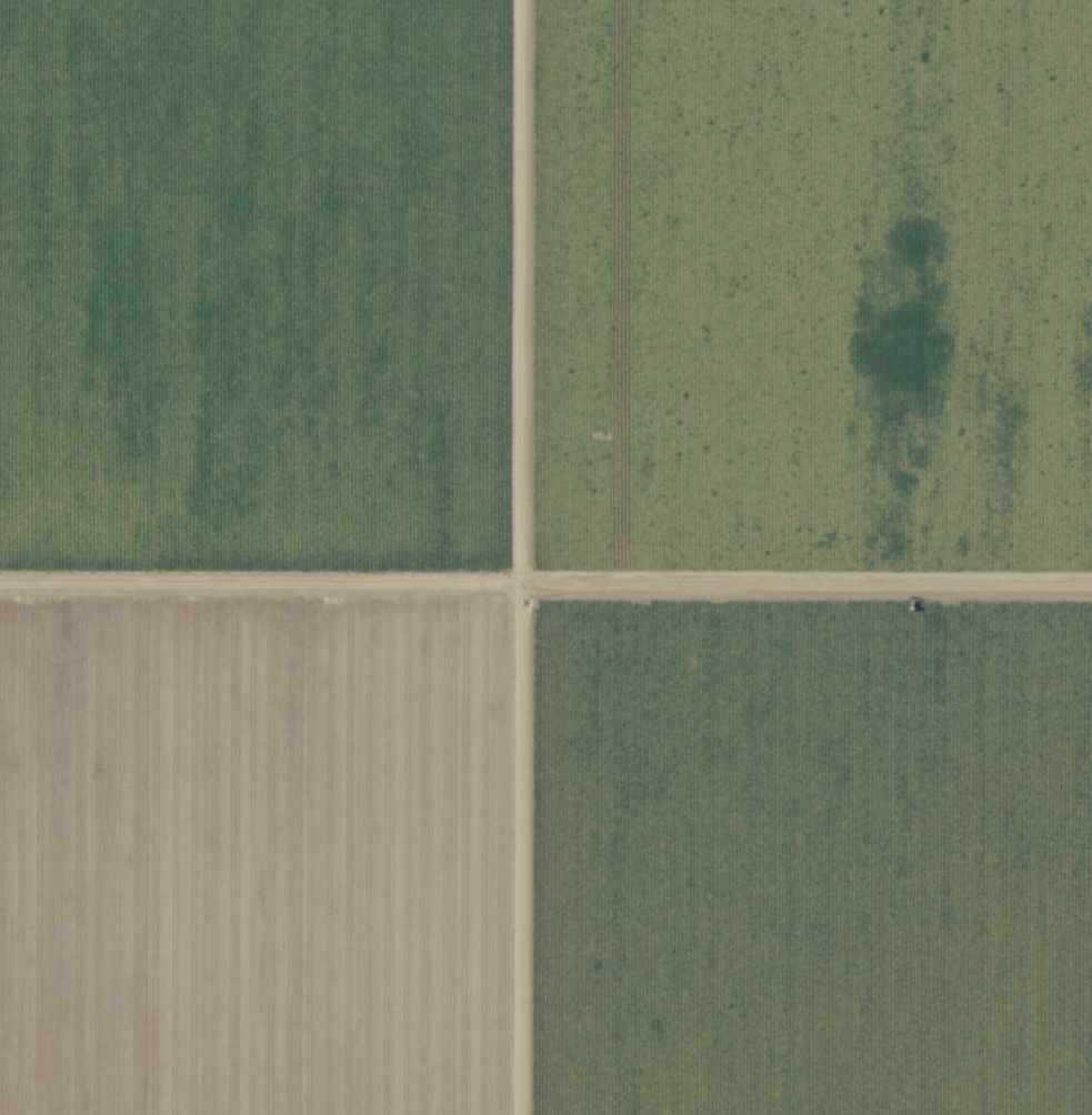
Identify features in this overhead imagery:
crop: (810, 294)
road: (520, 557)
crop: (445, 655)

